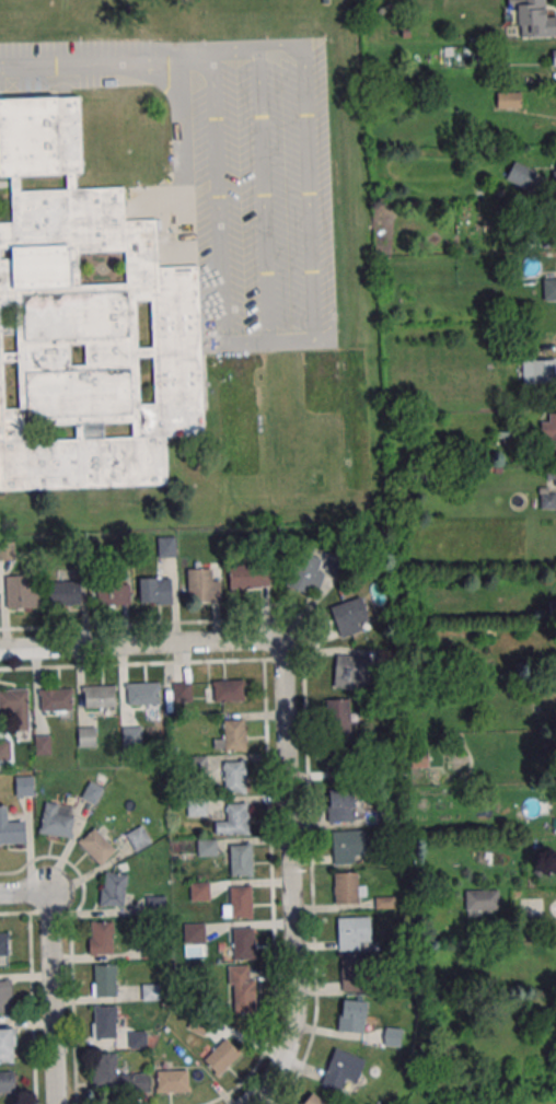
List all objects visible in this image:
building: (530, 18)
park: (174, 19)
building: (554, 57)
road: (267, 65)
building: (521, 175)
building: (548, 288)
building: (86, 321)
building: (544, 371)
building: (548, 434)
building: (549, 486)
building: (166, 546)
building: (9, 551)
building: (311, 568)
building: (250, 576)
building: (204, 584)
building: (154, 590)
building: (22, 591)
building: (65, 592)
building: (114, 593)
building: (350, 616)
road: (123, 625)
road: (140, 643)
road: (131, 664)
building: (351, 672)
building: (224, 690)
building: (143, 693)
building: (182, 693)
building: (100, 696)
building: (57, 701)
building: (15, 707)
building: (338, 718)
building: (88, 735)
building: (132, 735)
building: (232, 735)
building: (43, 745)
building: (4, 752)
building: (340, 768)
building: (234, 776)
building: (25, 786)
building: (340, 805)
building: (57, 820)
building: (233, 820)
building: (11, 828)
building: (138, 838)
building: (97, 846)
building: (348, 846)
building: (206, 847)
building: (240, 860)
road: (291, 880)
building: (113, 888)
building: (348, 888)
building: (199, 891)
road: (20, 893)
building: (239, 900)
building: (482, 900)
building: (531, 906)
building: (354, 931)
building: (194, 933)
building: (101, 938)
building: (243, 943)
building: (3, 944)
building: (355, 974)
building: (104, 979)
building: (242, 988)
building: (151, 991)
building: (5, 996)
road: (53, 997)
building: (352, 1015)
building: (104, 1022)
building: (393, 1037)
building: (7, 1045)
building: (221, 1056)
building: (343, 1069)
building: (115, 1076)
building: (172, 1080)
building: (8, 1082)
building: (313, 1100)

